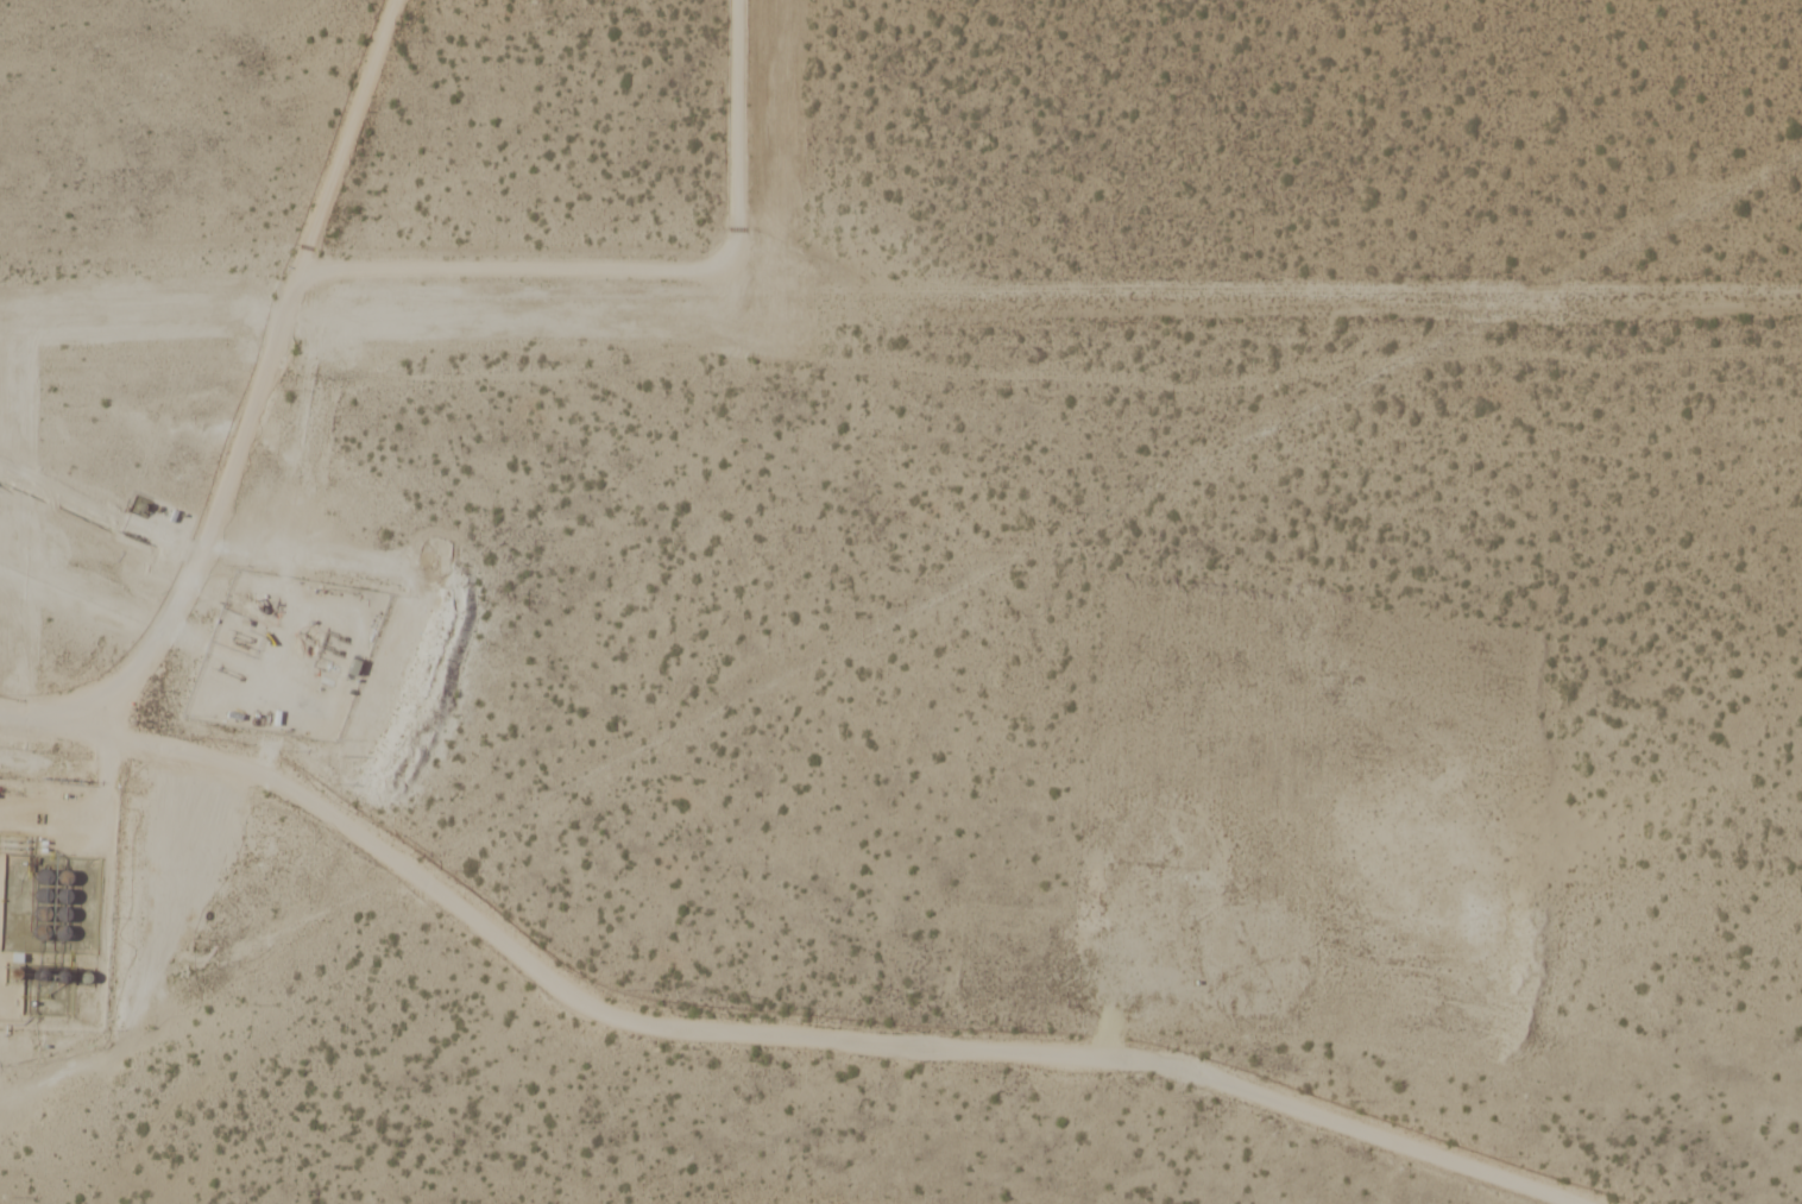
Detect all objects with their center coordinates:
road: (370, 387)
road: (755, 1032)

